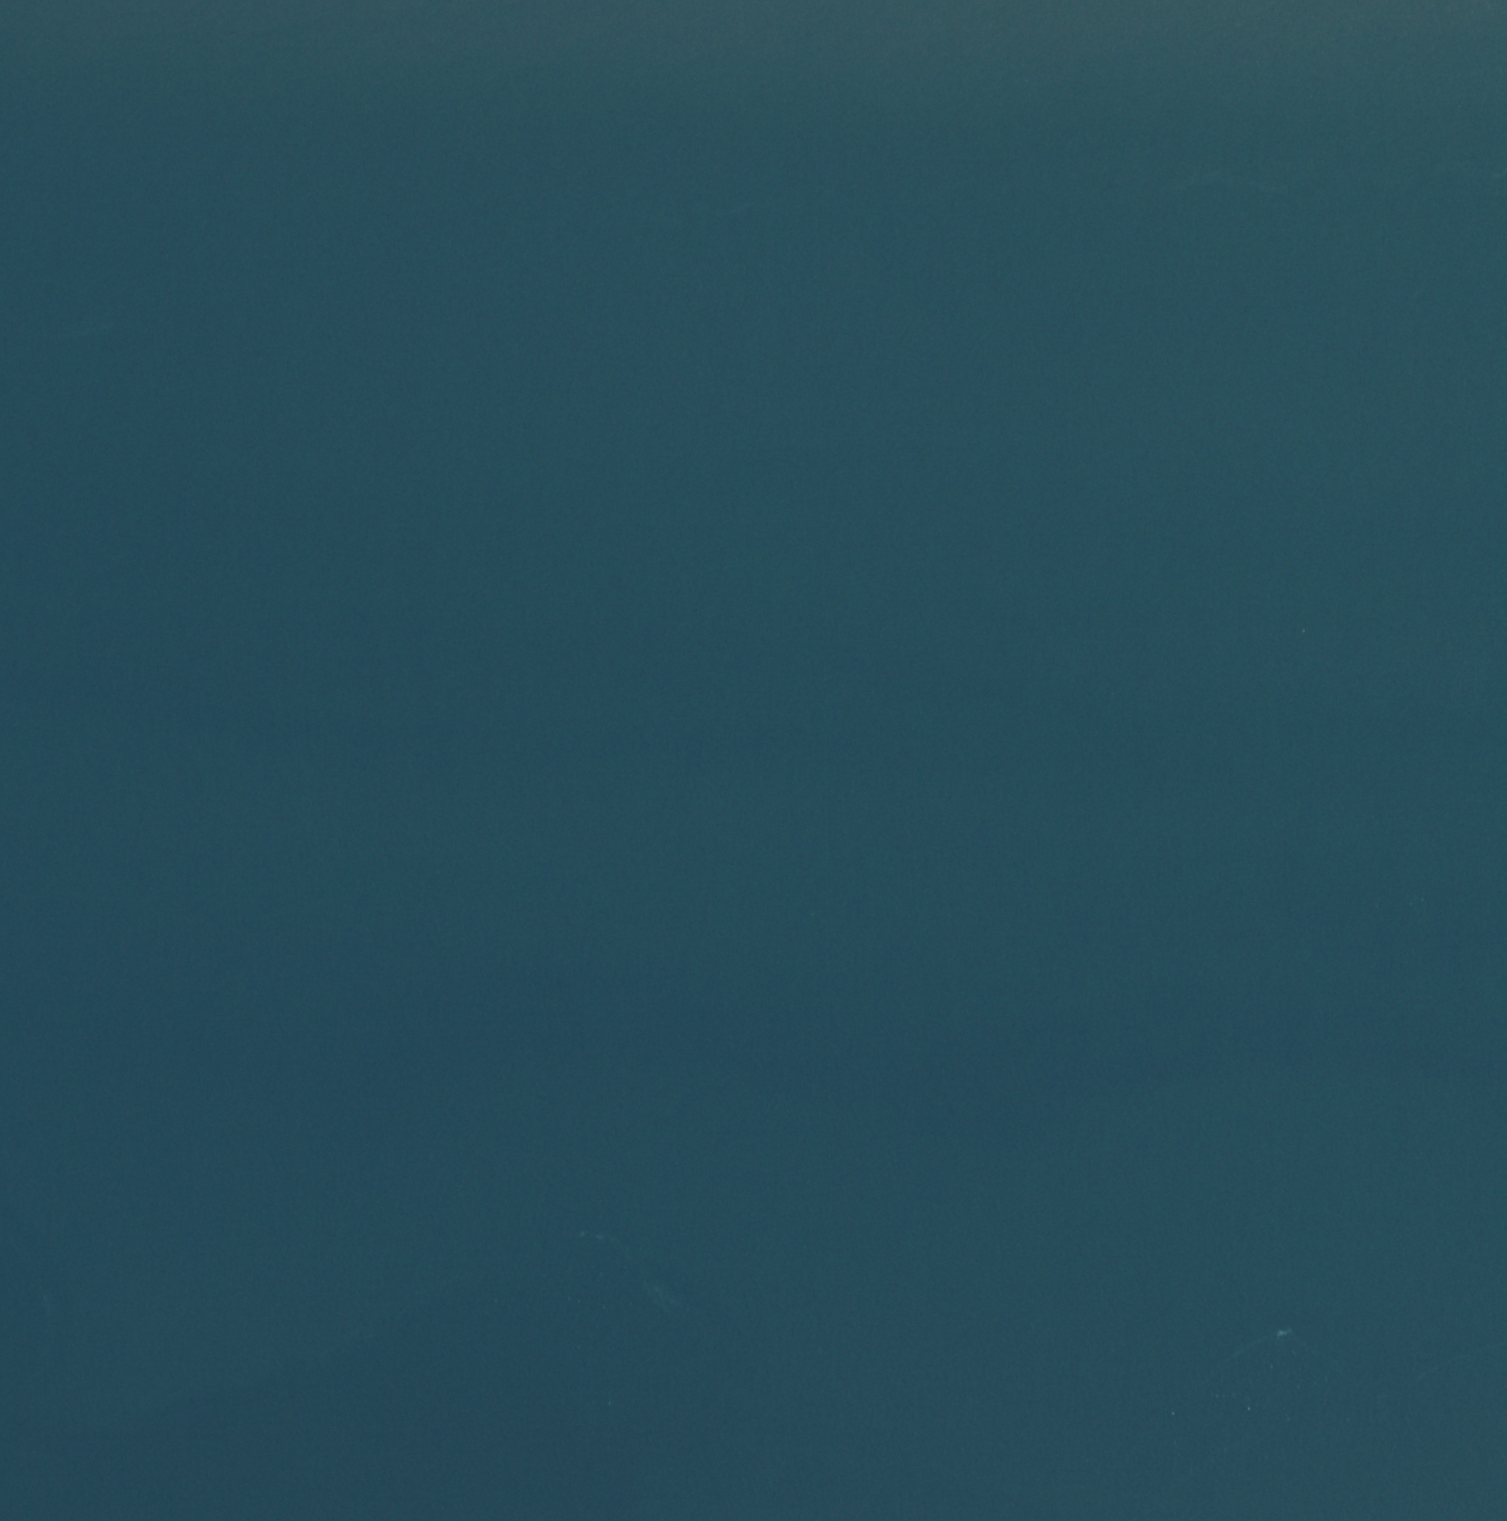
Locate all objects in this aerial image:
river: (753, 1234)
river: (1399, 1278)

